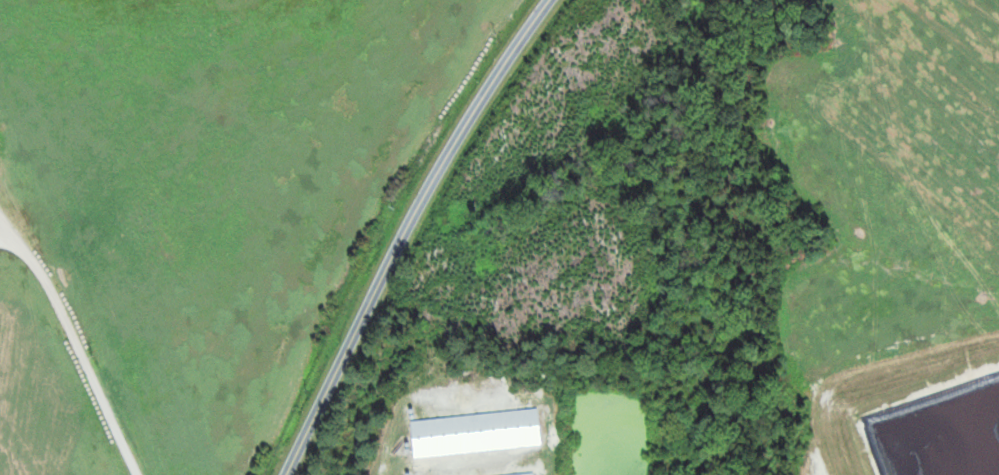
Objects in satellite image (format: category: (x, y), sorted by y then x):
road: (406, 229)
building: (472, 431)
building: (521, 473)

